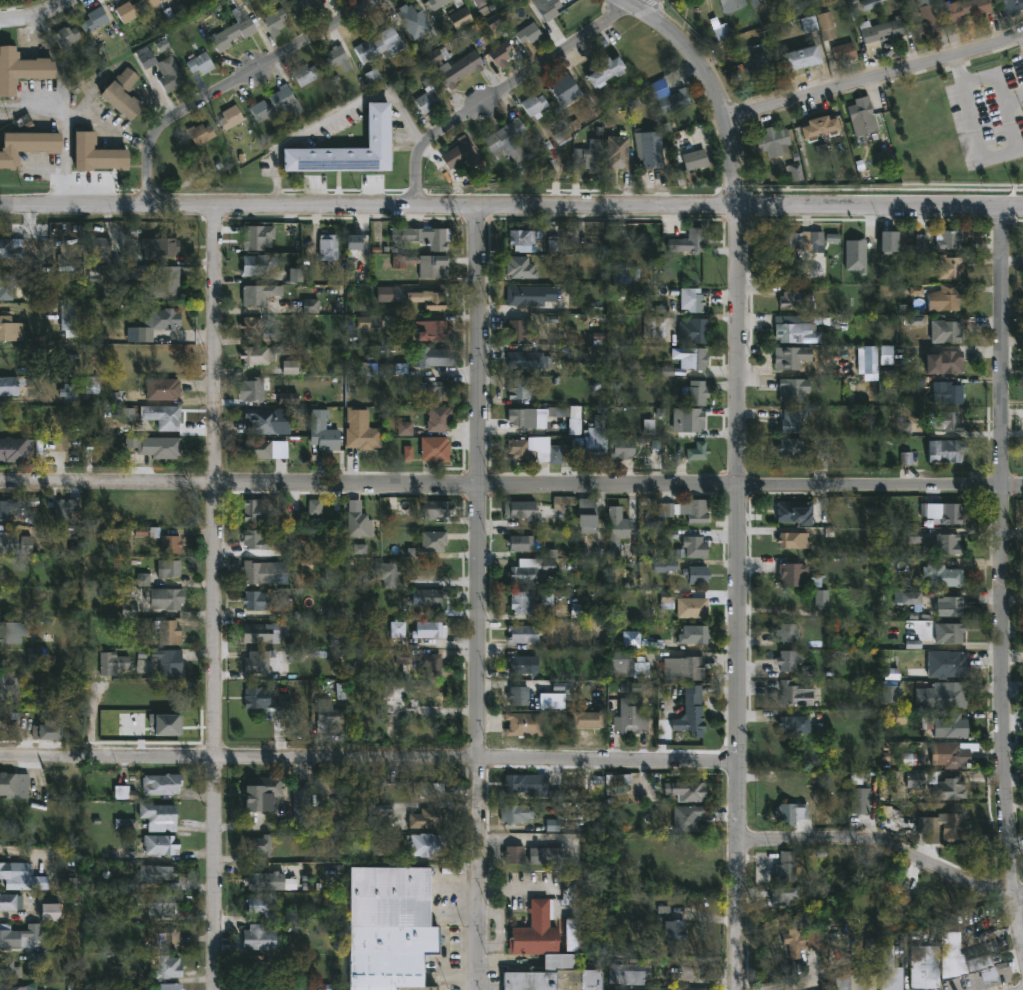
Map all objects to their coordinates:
building: (471, 0)
building: (762, 0)
building: (480, 2)
building: (754, 2)
building: (438, 3)
building: (459, 3)
building: (304, 5)
building: (733, 5)
building: (1012, 7)
building: (134, 9)
building: (548, 9)
building: (965, 9)
road: (41, 15)
building: (460, 17)
building: (96, 18)
building: (414, 19)
building: (274, 20)
building: (928, 20)
building: (826, 26)
building: (528, 33)
building: (880, 33)
building: (232, 34)
building: (67, 35)
road: (1022, 36)
building: (379, 44)
building: (846, 51)
building: (499, 52)
building: (336, 58)
building: (799, 58)
building: (200, 62)
building: (757, 65)
building: (458, 68)
building: (21, 69)
building: (607, 71)
building: (168, 73)
building: (306, 74)
road: (988, 75)
road: (876, 77)
road: (230, 83)
road: (713, 83)
road: (507, 87)
building: (565, 88)
building: (122, 94)
building: (671, 98)
building: (427, 100)
building: (277, 104)
building: (535, 105)
building: (863, 116)
building: (232, 117)
road: (334, 117)
building: (822, 127)
building: (201, 133)
building: (508, 139)
building: (774, 141)
building: (28, 146)
building: (350, 149)
building: (653, 149)
building: (617, 152)
building: (462, 153)
building: (97, 154)
building: (593, 156)
road: (985, 157)
building: (691, 165)
road: (243, 207)
road: (754, 207)
building: (255, 238)
building: (428, 238)
building: (524, 240)
building: (799, 240)
building: (948, 240)
building: (887, 242)
building: (688, 243)
building: (327, 247)
building: (355, 247)
building: (10, 248)
building: (158, 248)
building: (256, 265)
building: (421, 265)
building: (949, 267)
building: (520, 269)
building: (629, 275)
building: (161, 285)
building: (5, 289)
building: (258, 294)
building: (385, 295)
building: (517, 295)
building: (949, 297)
building: (428, 299)
building: (692, 300)
building: (792, 300)
building: (69, 320)
building: (161, 320)
building: (653, 327)
building: (10, 330)
building: (790, 330)
building: (256, 331)
building: (430, 331)
building: (518, 331)
building: (694, 331)
building: (946, 331)
building: (257, 355)
building: (885, 356)
building: (432, 357)
building: (528, 357)
building: (696, 359)
building: (792, 359)
building: (950, 362)
building: (13, 387)
building: (161, 389)
building: (517, 389)
building: (252, 390)
building: (437, 390)
building: (793, 390)
building: (695, 394)
building: (947, 394)
building: (162, 416)
building: (532, 417)
building: (439, 420)
building: (689, 420)
building: (792, 420)
building: (127, 421)
building: (259, 421)
building: (946, 421)
building: (404, 429)
building: (359, 431)
building: (321, 435)
building: (154, 447)
building: (595, 447)
building: (791, 448)
building: (621, 449)
building: (16, 450)
building: (255, 450)
building: (434, 450)
building: (534, 451)
building: (945, 451)
building: (697, 452)
building: (822, 457)
road: (511, 486)
building: (562, 506)
building: (314, 508)
building: (66, 509)
building: (255, 510)
building: (437, 510)
building: (795, 511)
building: (8, 512)
building: (519, 512)
building: (697, 512)
building: (942, 513)
building: (167, 514)
building: (586, 516)
building: (356, 525)
building: (616, 531)
building: (255, 539)
building: (792, 540)
building: (433, 541)
building: (8, 543)
building: (520, 543)
building: (943, 543)
building: (169, 544)
building: (695, 547)
building: (167, 567)
building: (682, 570)
building: (264, 572)
building: (790, 572)
building: (524, 573)
building: (387, 574)
building: (942, 576)
road: (1004, 582)
building: (429, 596)
building: (907, 597)
building: (164, 598)
road: (216, 598)
road: (743, 598)
building: (255, 599)
road: (485, 600)
building: (522, 602)
building: (948, 605)
building: (692, 607)
building: (430, 629)
building: (9, 630)
building: (168, 631)
building: (266, 631)
building: (948, 632)
building: (522, 633)
building: (695, 633)
building: (787, 633)
building: (630, 640)
building: (36, 655)
building: (788, 659)
building: (167, 660)
building: (256, 661)
building: (430, 662)
building: (521, 663)
building: (948, 663)
building: (113, 664)
building: (627, 665)
building: (684, 667)
building: (9, 682)
building: (395, 688)
building: (895, 692)
building: (518, 693)
building: (795, 693)
building: (940, 694)
building: (427, 695)
building: (40, 697)
building: (264, 697)
building: (690, 712)
building: (326, 716)
building: (630, 716)
building: (585, 718)
building: (7, 719)
building: (791, 722)
building: (523, 723)
building: (944, 724)
building: (45, 729)
building: (951, 755)
road: (371, 757)
building: (620, 782)
building: (915, 782)
building: (160, 783)
building: (13, 784)
building: (525, 784)
building: (948, 788)
building: (393, 790)
building: (686, 790)
building: (260, 791)
building: (860, 800)
building: (298, 809)
building: (790, 812)
building: (515, 813)
building: (158, 816)
building: (686, 817)
building: (422, 818)
building: (945, 827)
building: (159, 844)
building: (424, 844)
building: (258, 845)
road: (888, 845)
building: (517, 849)
building: (785, 867)
building: (4, 869)
building: (155, 873)
building: (692, 878)
building: (267, 881)
building: (784, 895)
building: (10, 901)
building: (260, 903)
building: (160, 905)
building: (48, 908)
building: (388, 927)
building: (671, 929)
building: (18, 934)
building: (792, 935)
building: (257, 936)
building: (571, 936)
building: (162, 937)
building: (816, 939)
building: (957, 956)
building: (545, 957)
building: (924, 959)
building: (167, 967)
building: (9, 968)
building: (257, 968)
building: (891, 970)
building: (625, 974)
building: (841, 982)
building: (167, 985)
building: (8, 988)
building: (269, 989)

